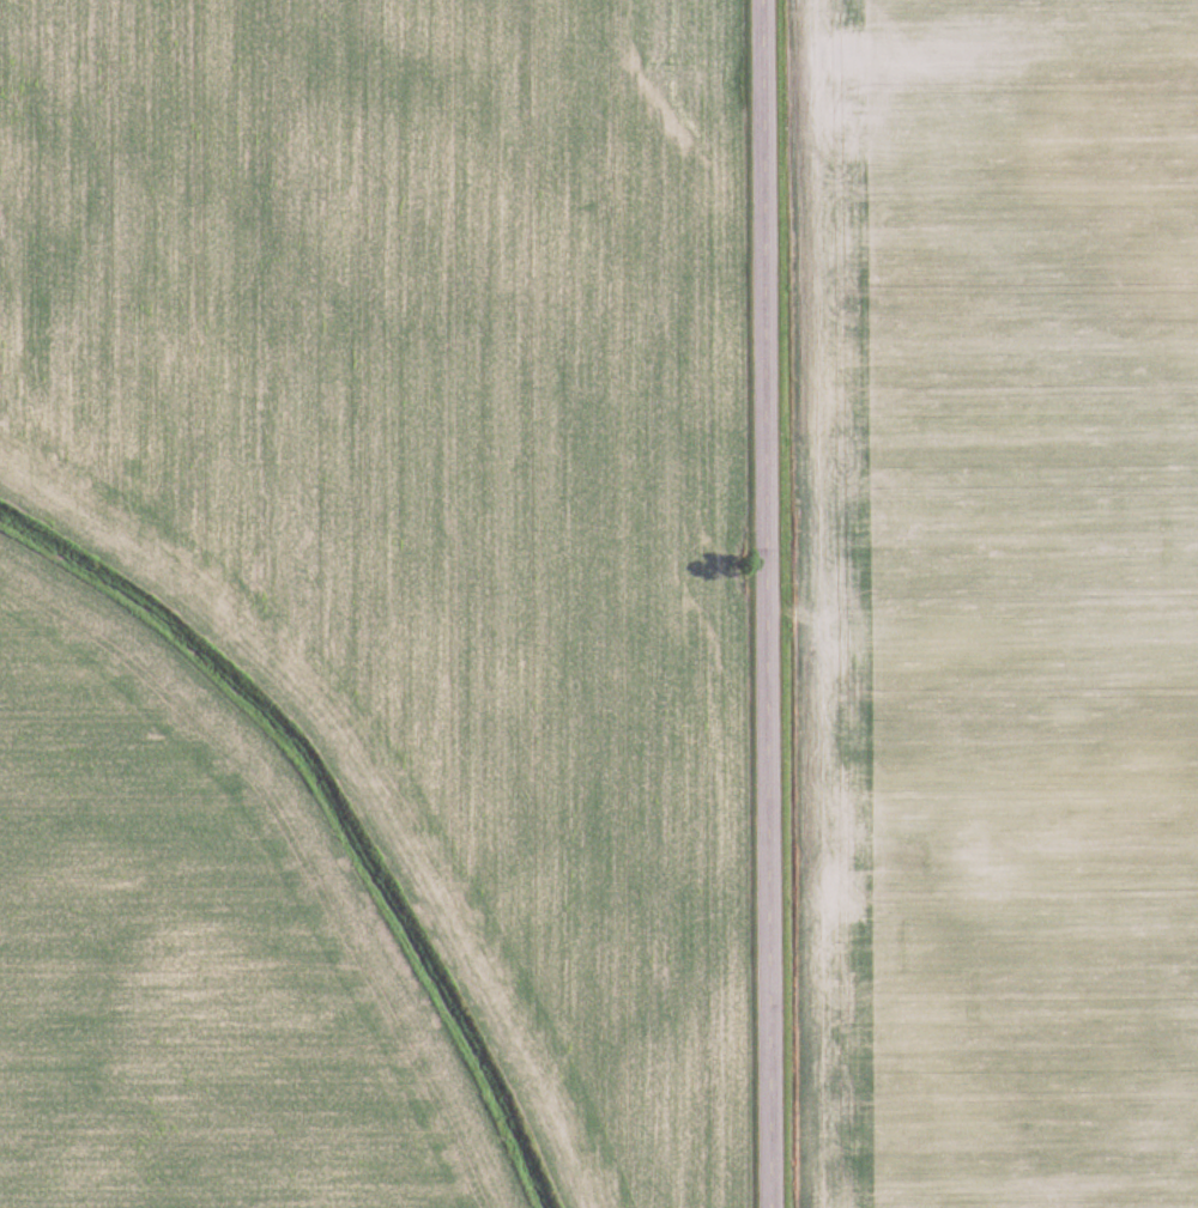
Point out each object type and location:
road: (766, 603)

